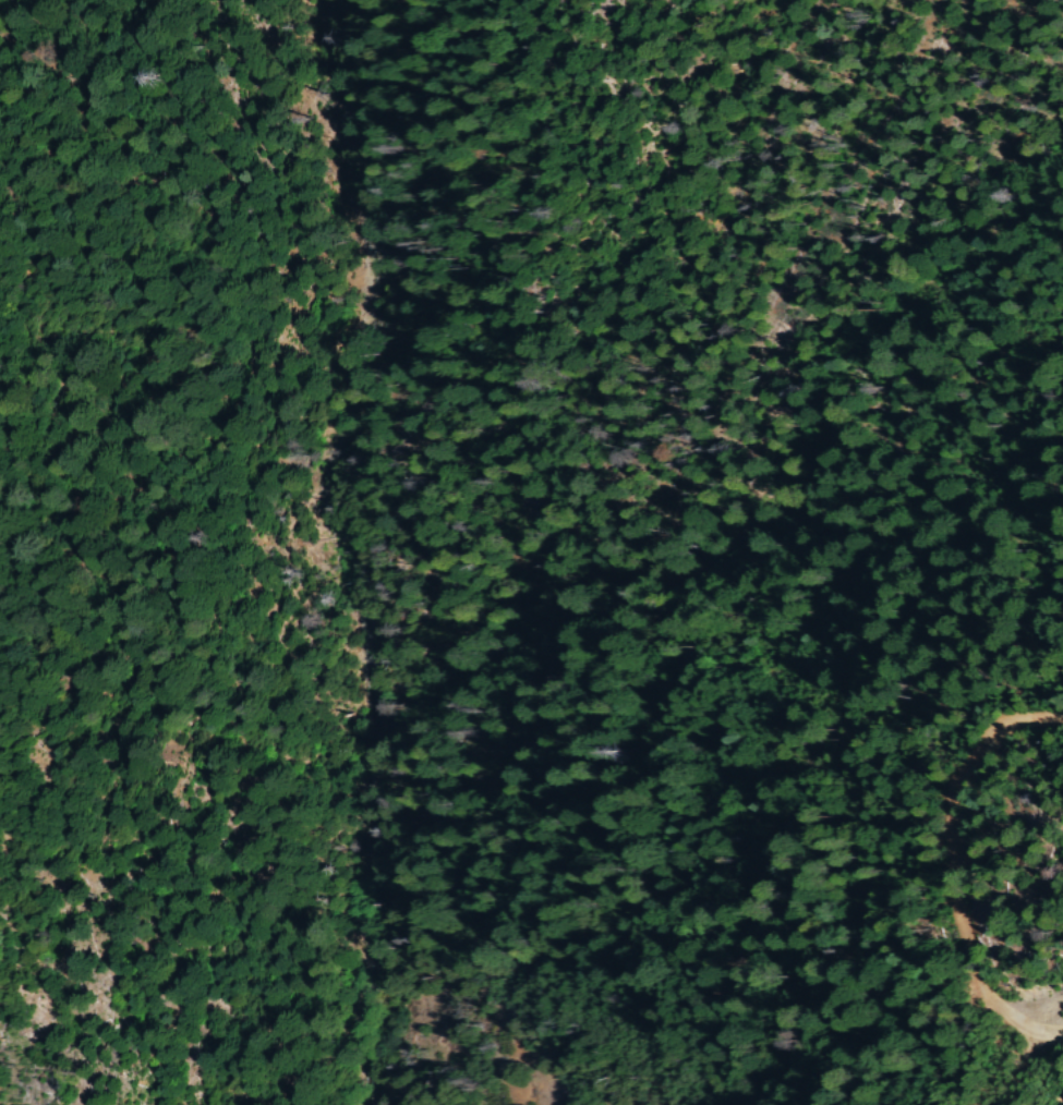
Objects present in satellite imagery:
road: (956, 839)

